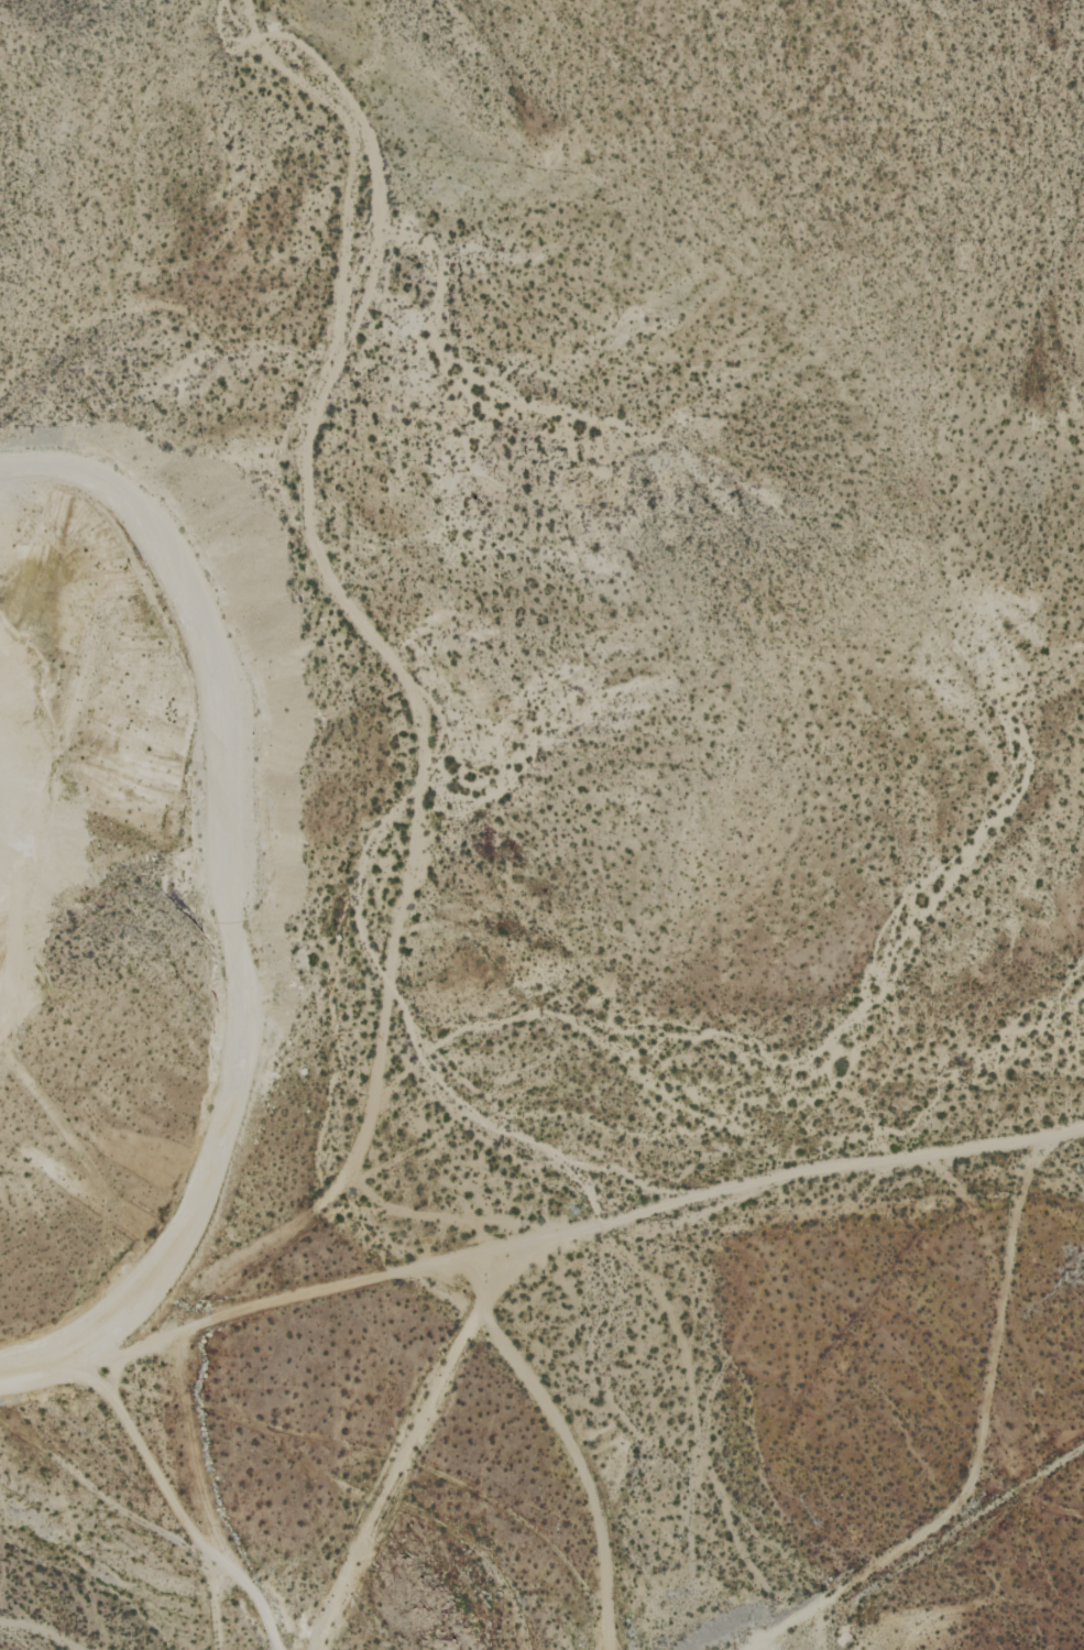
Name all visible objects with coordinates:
road: (628, 1212)
road: (89, 1335)

